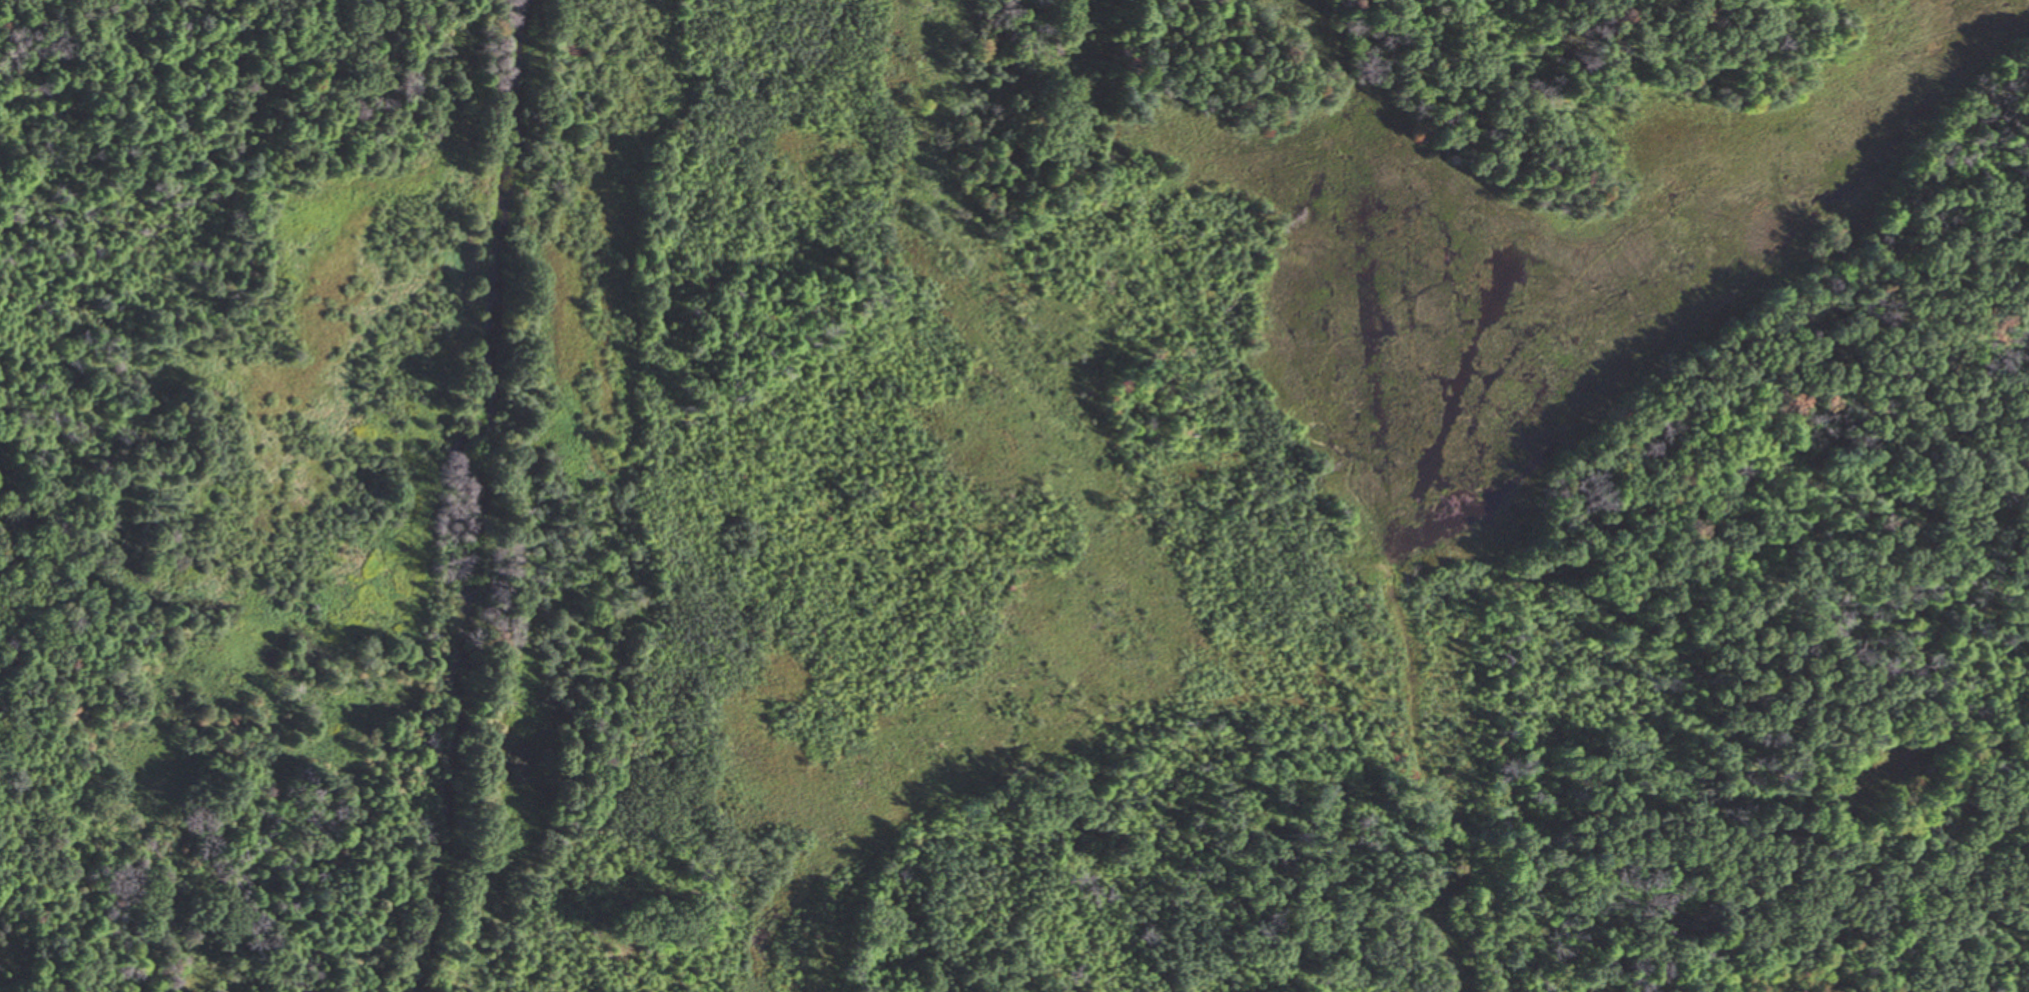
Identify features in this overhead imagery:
road: (308, 850)

